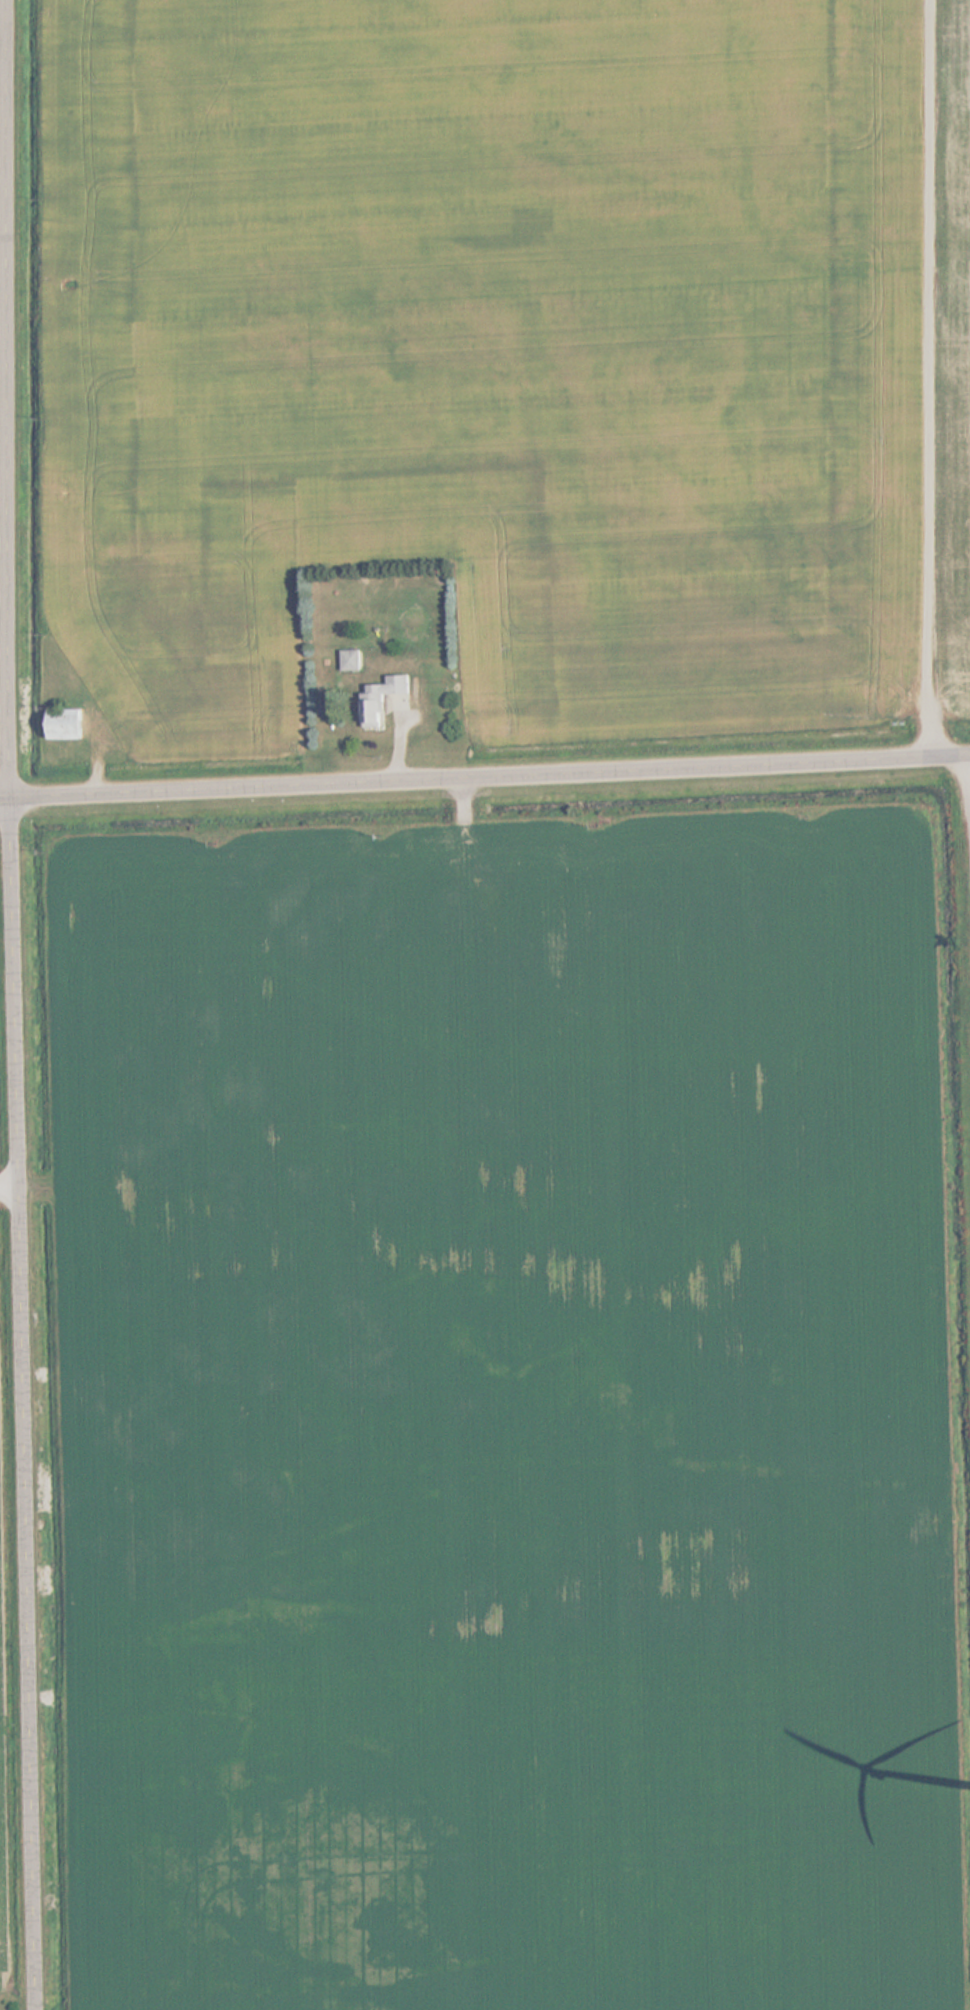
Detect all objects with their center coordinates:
road: (4, 65)
road: (927, 377)
building: (353, 661)
building: (387, 699)
building: (72, 724)
road: (484, 775)
road: (23, 1004)
road: (13, 1188)

